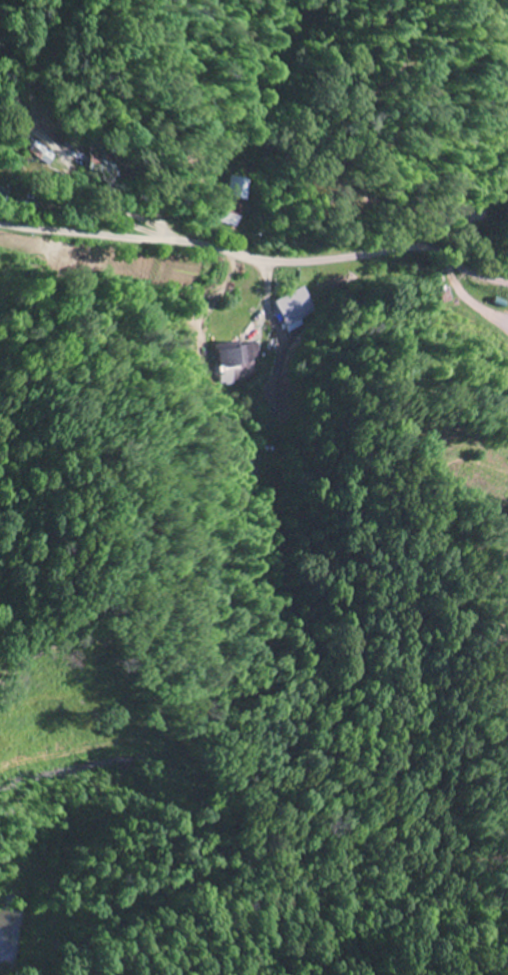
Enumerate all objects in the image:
building: (40, 152)
building: (2, 194)
building: (234, 201)
road: (256, 255)
building: (295, 309)
building: (236, 361)

